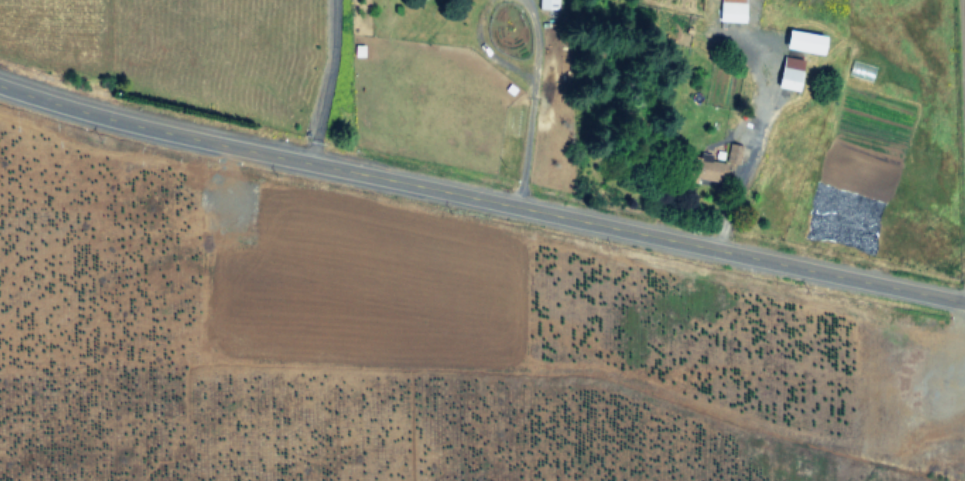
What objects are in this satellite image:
building: (546, 4)
building: (730, 10)
road: (533, 35)
road: (482, 47)
building: (788, 72)
road: (327, 81)
road: (961, 117)
road: (523, 138)
road: (746, 147)
building: (733, 154)
road: (481, 198)
crop: (412, 347)

